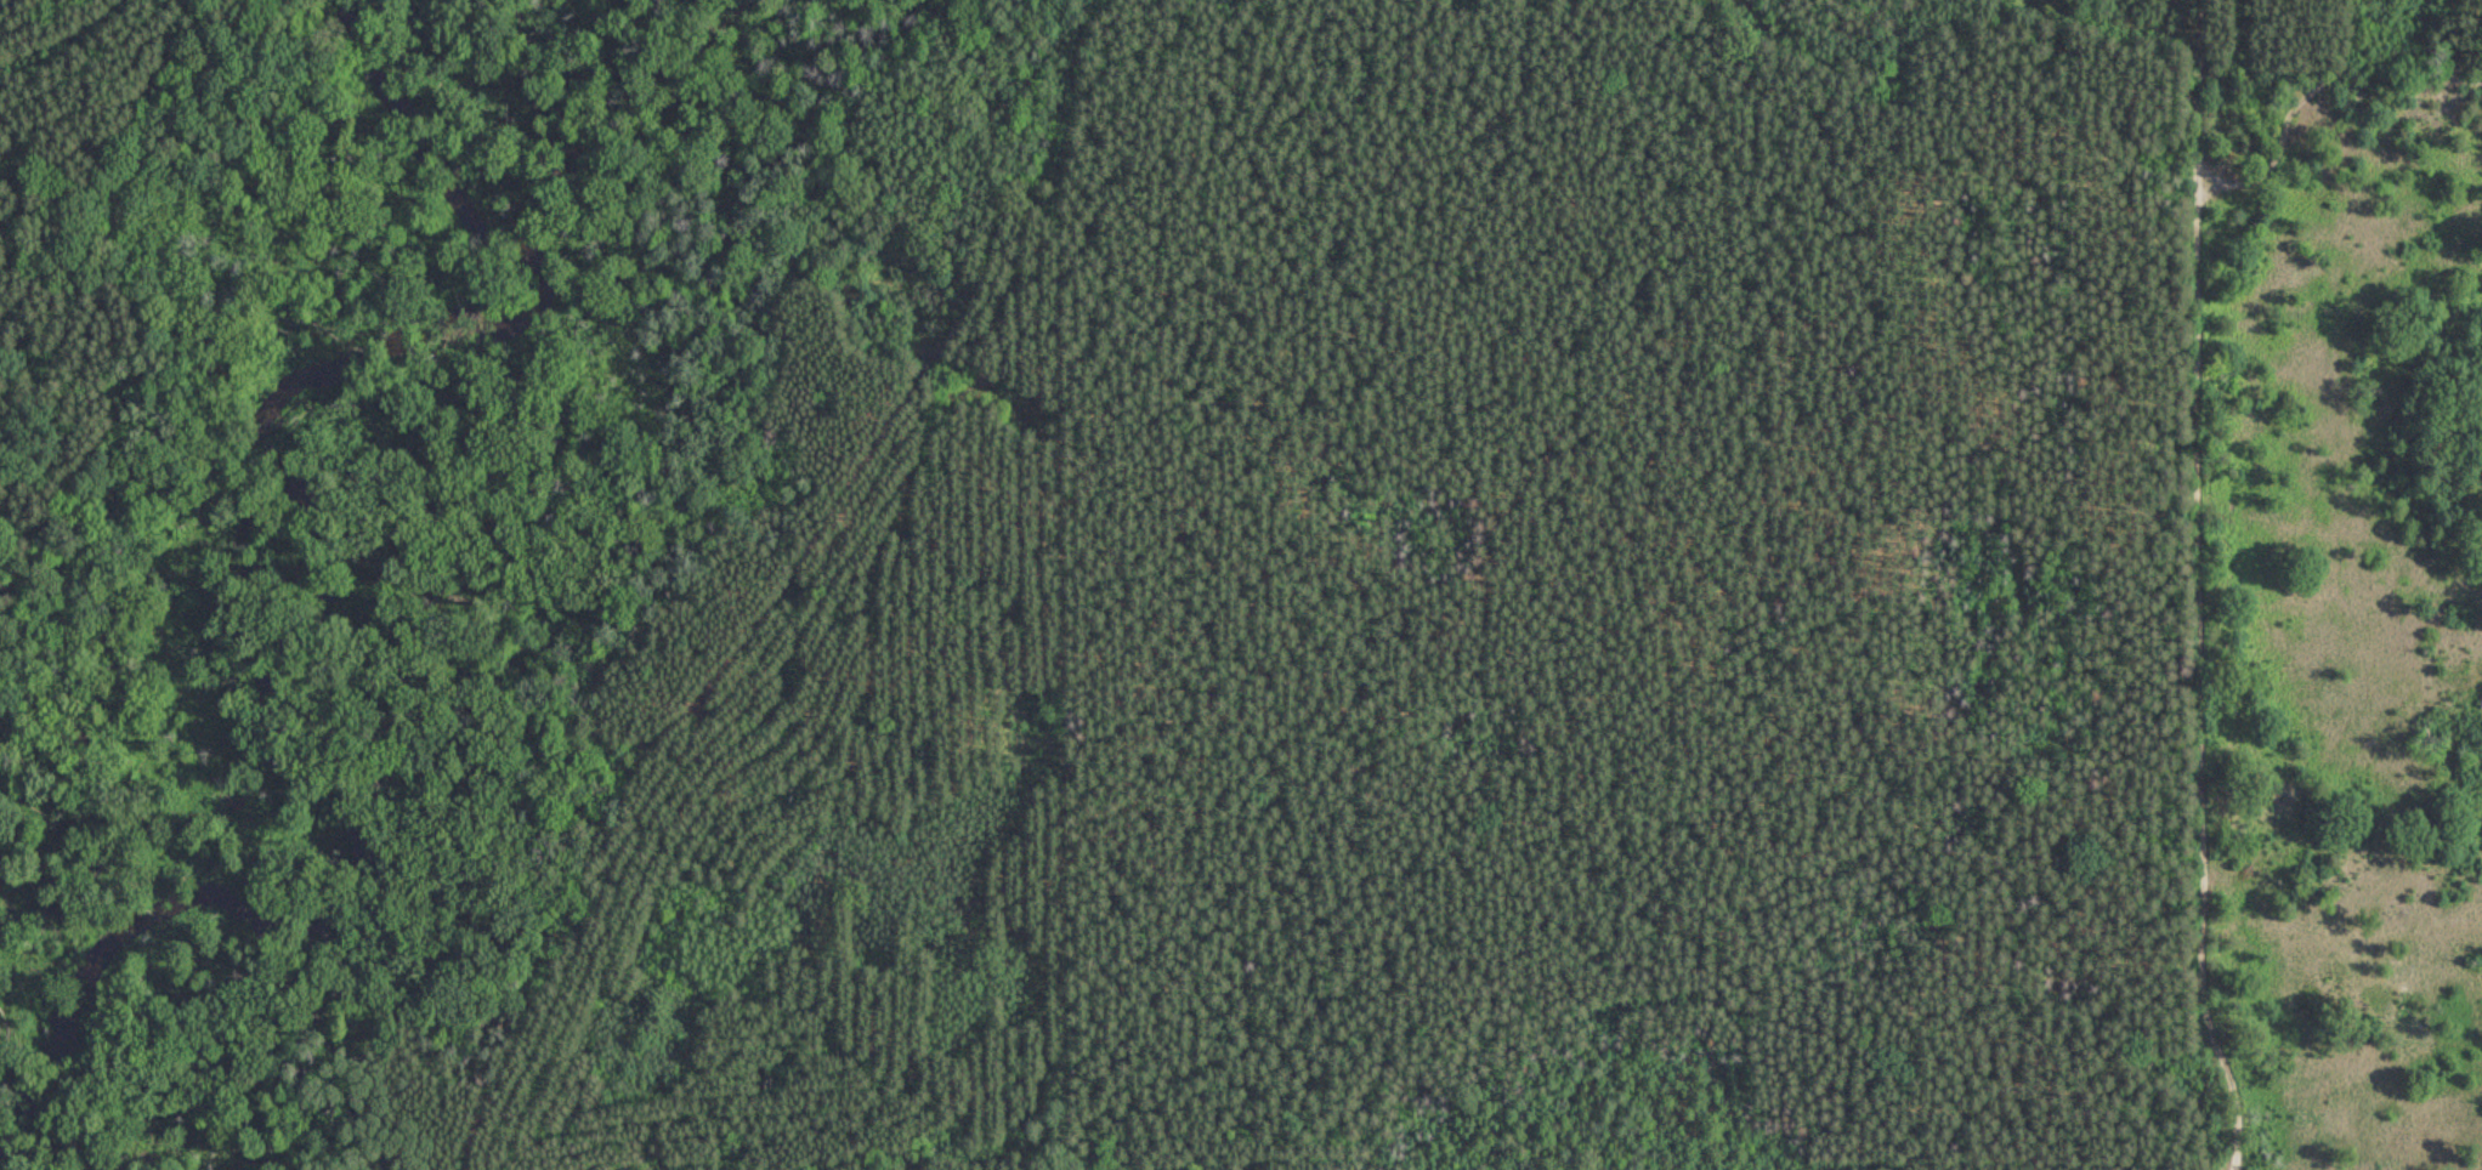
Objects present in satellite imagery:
road: (980, 180)
road: (68, 259)
road: (702, 766)

